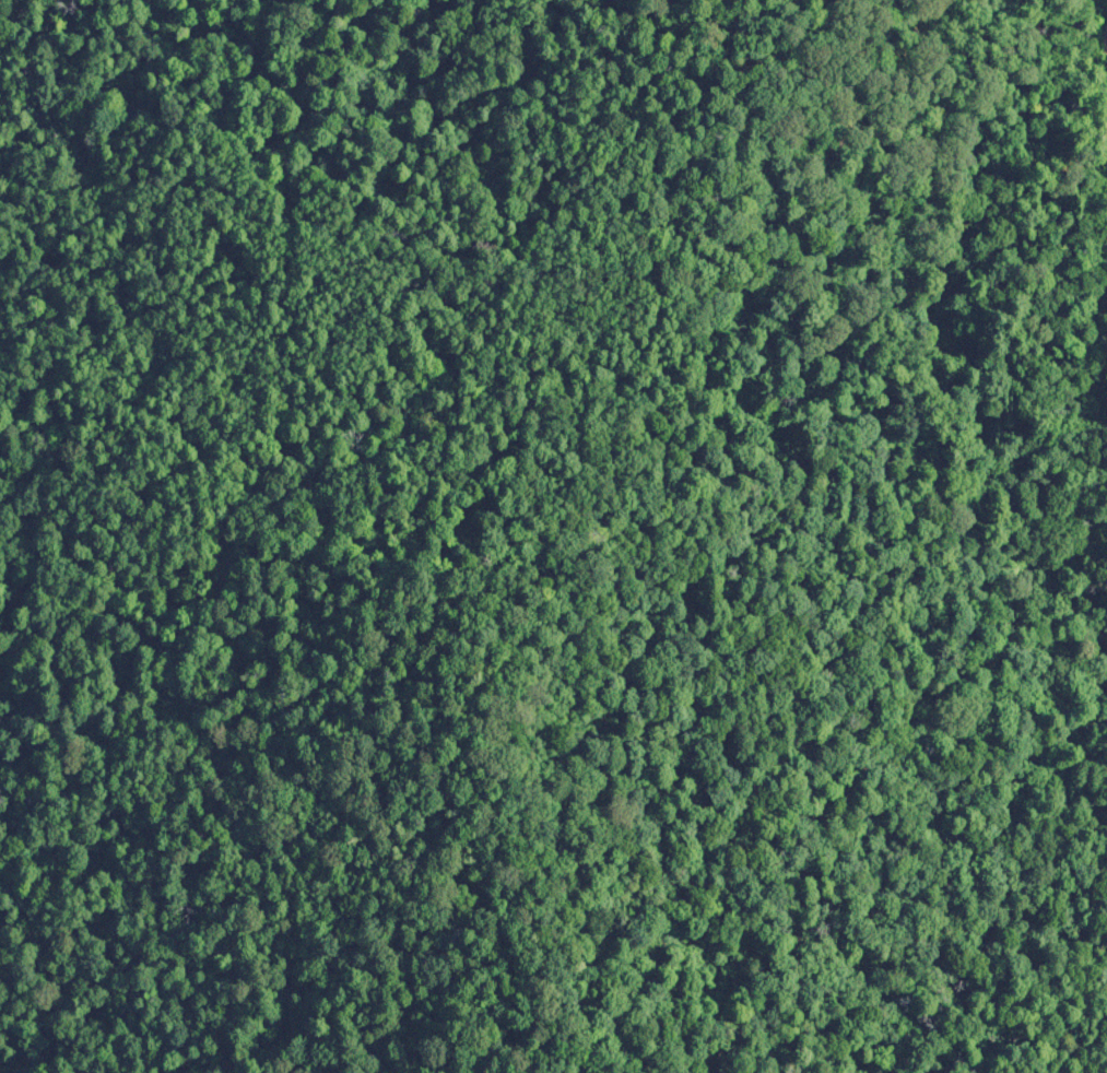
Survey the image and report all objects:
railway: (1090, 64)

